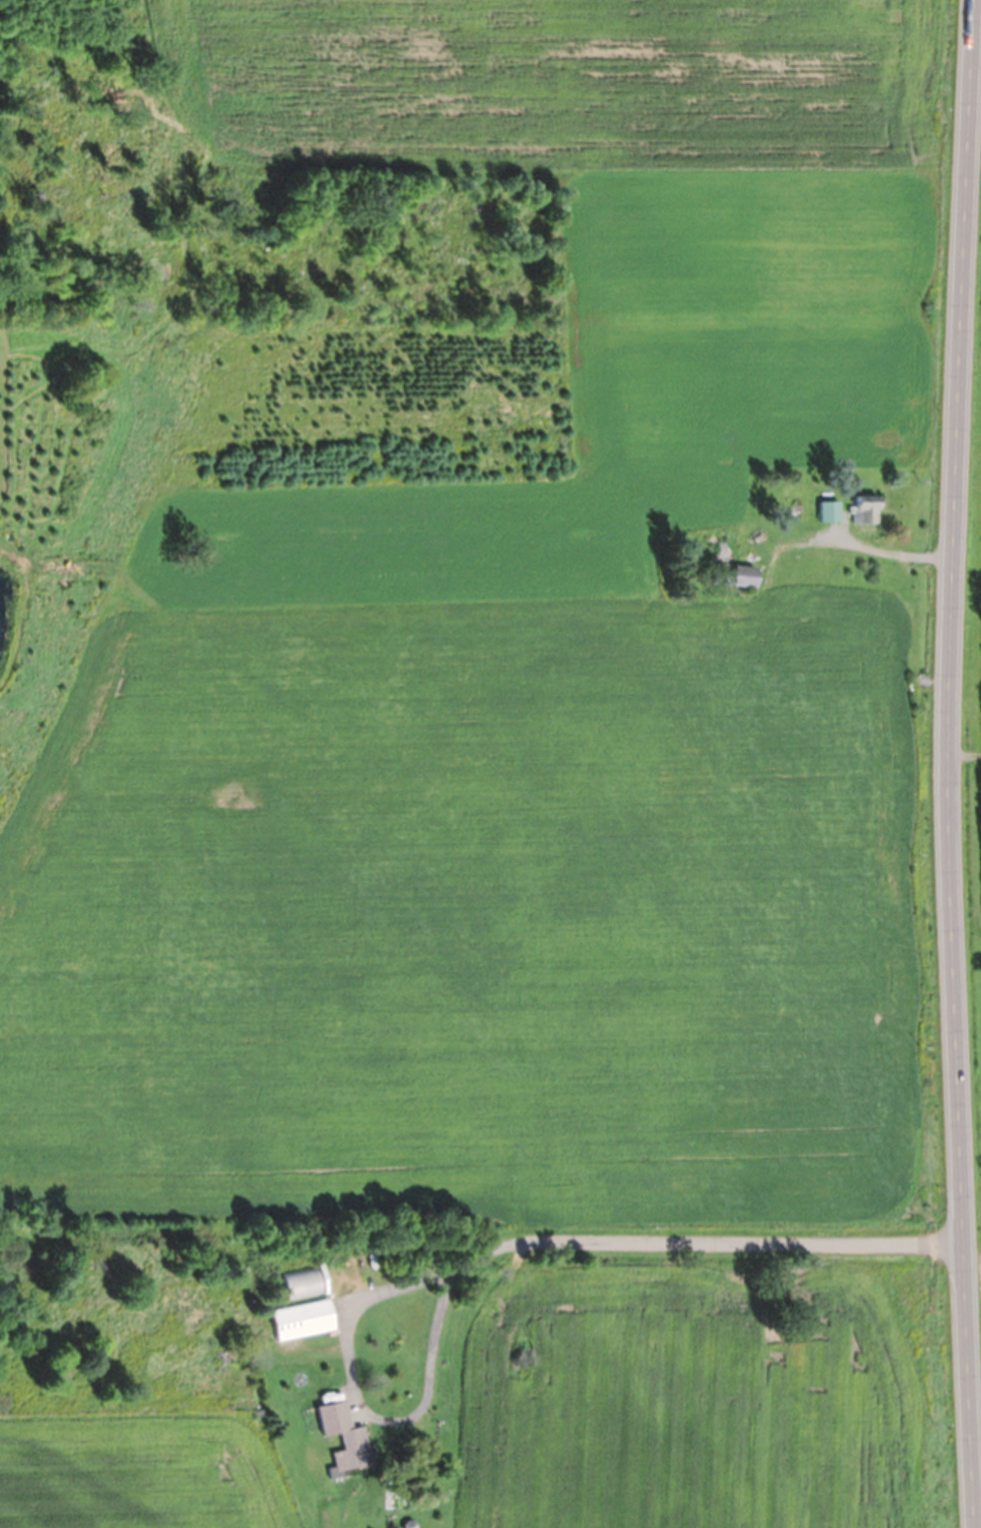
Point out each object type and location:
building: (864, 509)
building: (827, 511)
building: (730, 567)
road: (948, 764)
road: (737, 1239)
building: (304, 1283)
building: (303, 1320)
building: (344, 1434)

